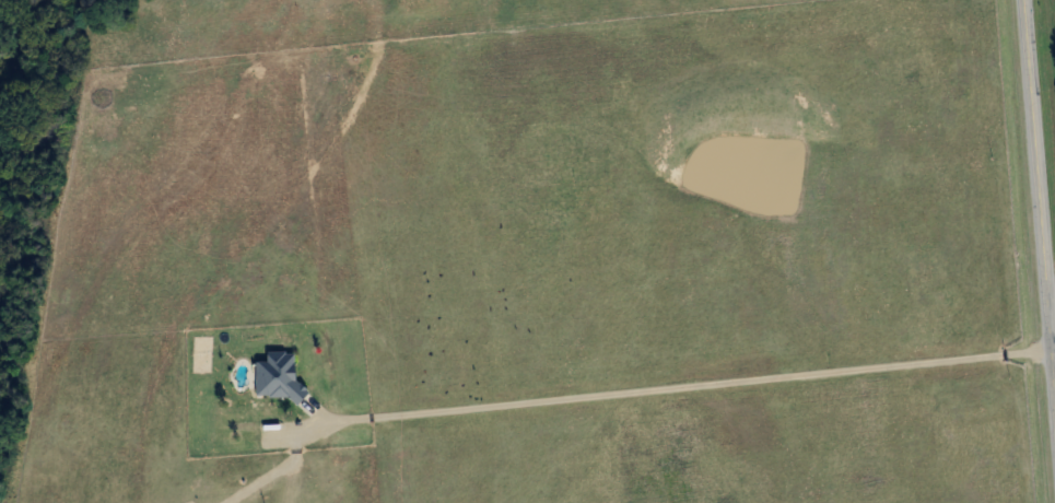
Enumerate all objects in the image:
road: (1040, 13)
road: (1039, 207)
road: (1054, 385)
road: (683, 389)

